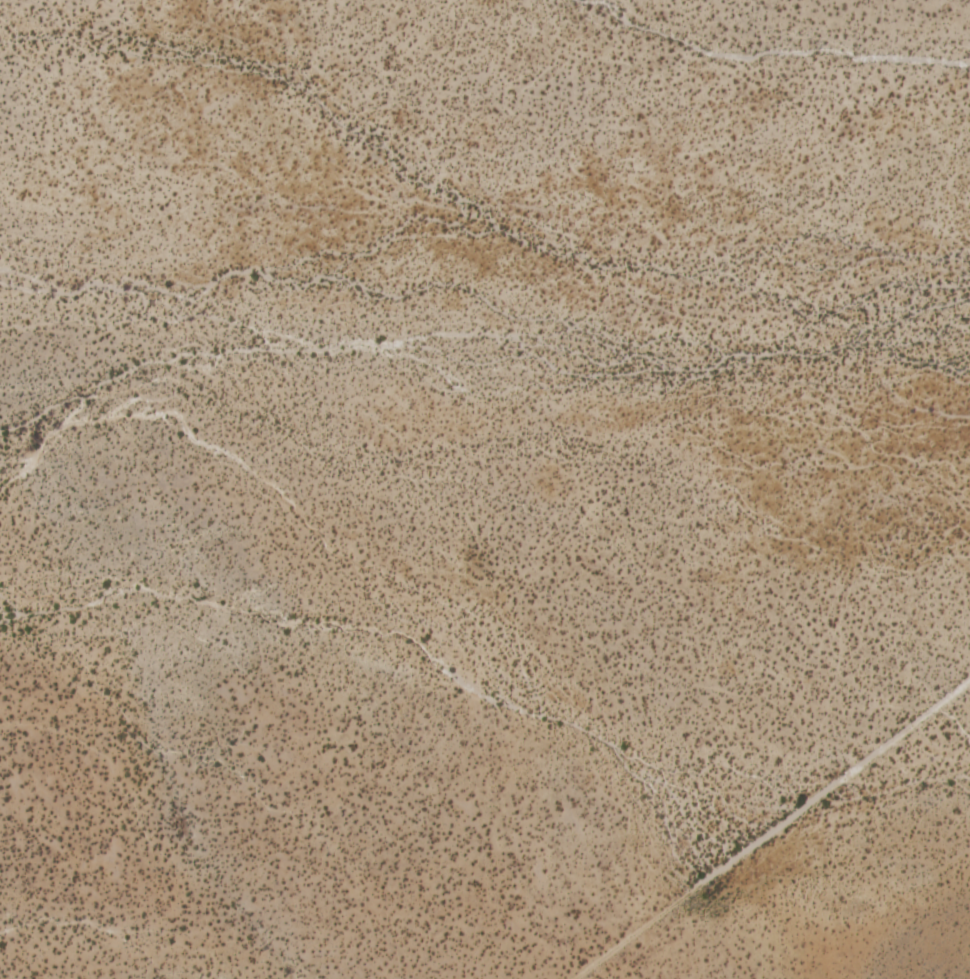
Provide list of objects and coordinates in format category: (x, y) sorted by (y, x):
road: (763, 850)

